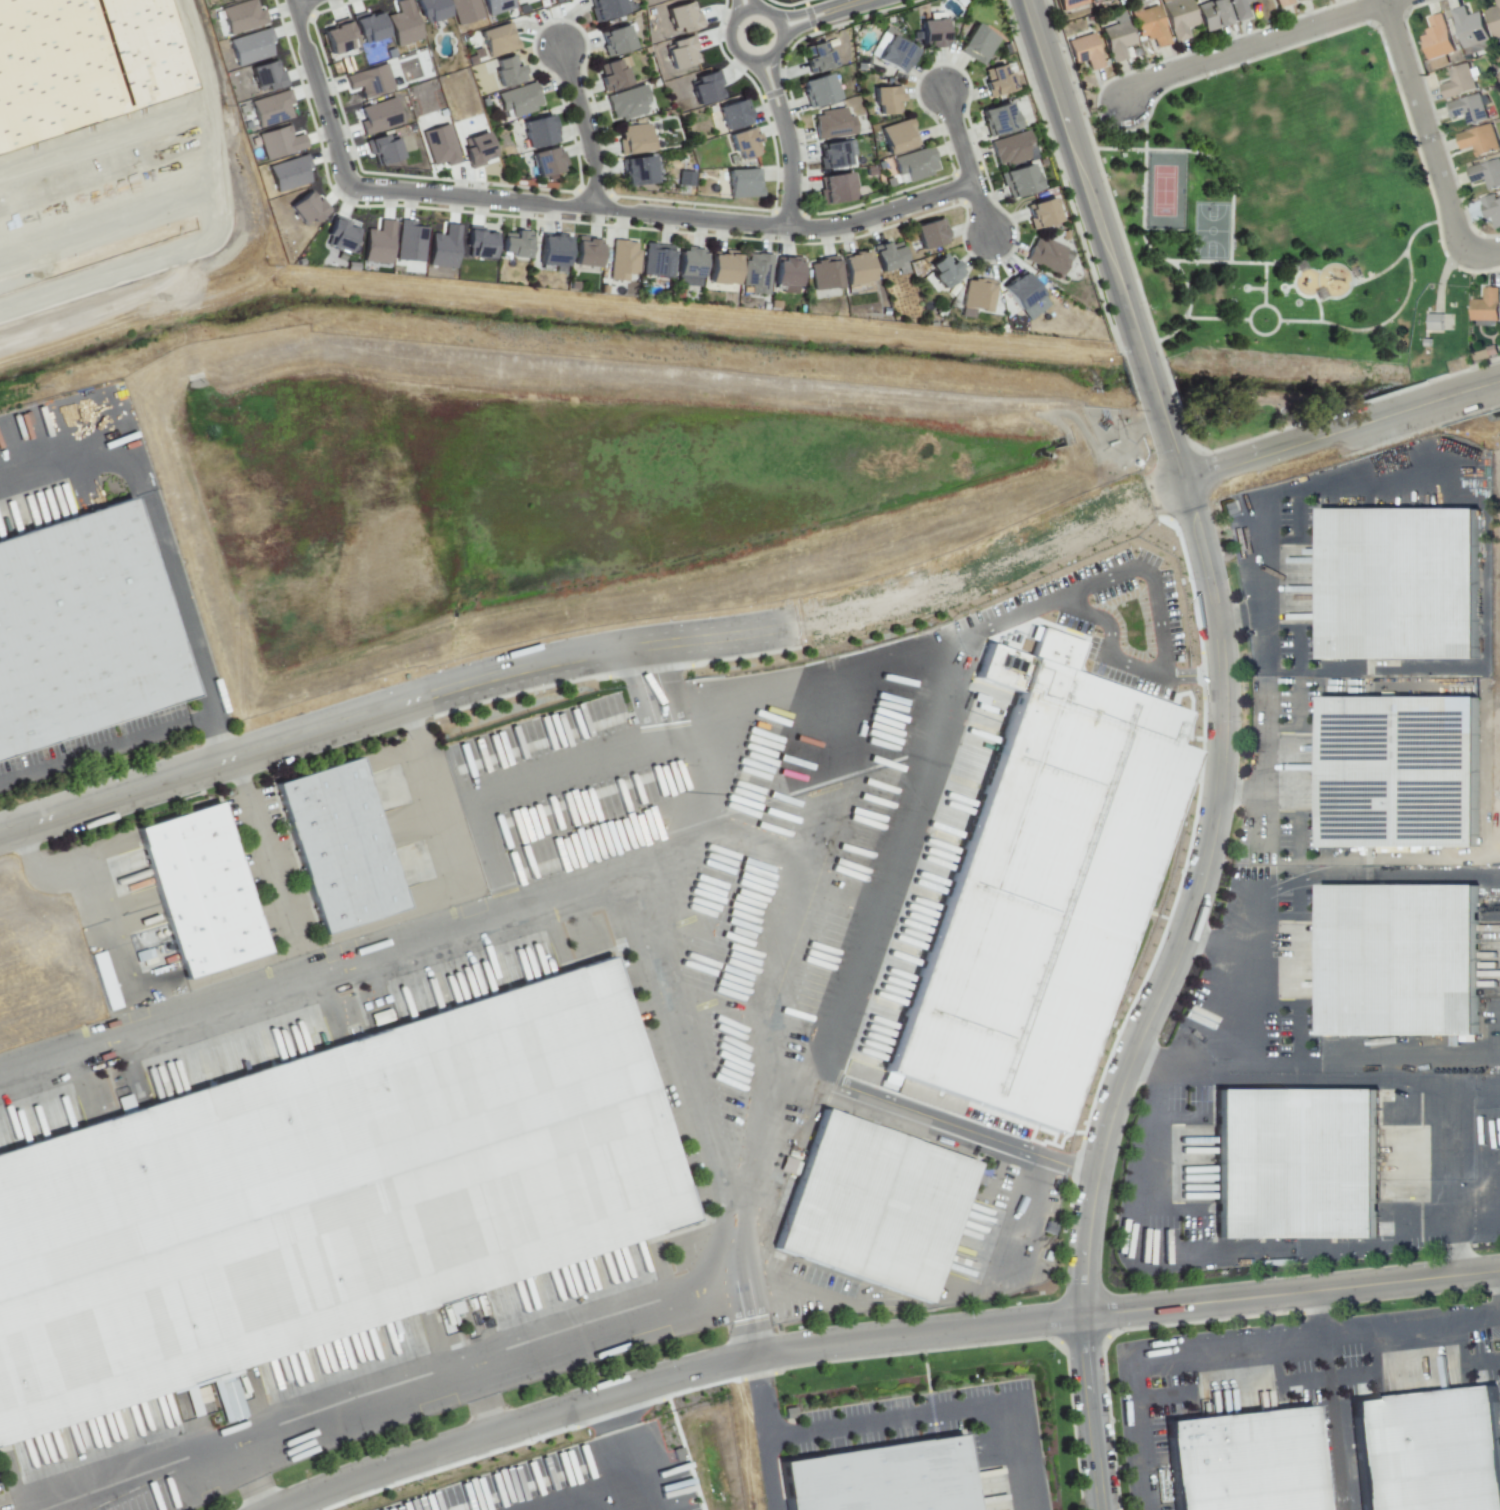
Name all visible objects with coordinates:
building: (227, 0)
building: (1091, 0)
building: (1296, 0)
building: (1300, 0)
building: (1095, 1)
road: (300, 2)
building: (1283, 3)
building: (1072, 4)
building: (496, 6)
road: (740, 6)
building: (1240, 9)
building: (430, 10)
building: (465, 10)
building: (605, 10)
road: (812, 10)
building: (1214, 15)
building: (242, 16)
building: (680, 17)
building: (1180, 18)
building: (1495, 19)
building: (403, 23)
building: (368, 26)
building: (1150, 27)
building: (1470, 28)
building: (338, 36)
building: (932, 36)
building: (1438, 39)
building: (1118, 41)
building: (499, 42)
building: (617, 42)
building: (979, 45)
road: (1255, 45)
building: (250, 46)
road: (732, 47)
building: (679, 52)
building: (1086, 52)
building: (895, 57)
building: (818, 59)
building: (78, 64)
building: (508, 74)
building: (265, 76)
building: (612, 76)
building: (369, 80)
building: (999, 83)
building: (1460, 83)
building: (704, 87)
road: (317, 91)
building: (820, 91)
building: (520, 102)
building: (886, 102)
building: (628, 104)
building: (271, 108)
building: (1469, 110)
building: (378, 116)
building: (733, 117)
building: (998, 121)
road: (585, 126)
building: (835, 126)
road: (1424, 126)
building: (538, 134)
building: (898, 138)
road: (786, 140)
building: (635, 141)
building: (1479, 141)
building: (279, 142)
building: (439, 145)
building: (743, 145)
building: (382, 148)
building: (476, 149)
building: (1012, 150)
road: (1198, 153)
building: (833, 157)
road: (964, 163)
building: (546, 164)
building: (915, 165)
building: (289, 173)
building: (638, 174)
building: (1487, 175)
road: (1083, 177)
building: (684, 178)
building: (1020, 182)
building: (743, 185)
park: (1164, 190)
building: (836, 191)
building: (306, 208)
building: (1491, 209)
road: (659, 213)
building: (1044, 214)
road: (1421, 225)
park: (1210, 230)
building: (339, 234)
building: (930, 237)
park: (1284, 239)
building: (409, 241)
building: (479, 242)
building: (378, 243)
building: (518, 244)
road: (1146, 245)
building: (443, 247)
building: (554, 251)
road: (1482, 252)
building: (587, 253)
building: (887, 258)
building: (1047, 258)
building: (659, 259)
building: (623, 260)
road: (1216, 261)
building: (691, 263)
road: (1279, 266)
building: (724, 268)
building: (788, 270)
building: (854, 271)
building: (945, 272)
building: (758, 273)
building: (823, 277)
road: (1359, 280)
road: (1287, 286)
road: (1254, 288)
building: (1021, 294)
building: (976, 299)
building: (1487, 308)
road: (1216, 318)
road: (1248, 319)
road: (1298, 320)
road: (1377, 324)
road: (1146, 379)
road: (1446, 397)
road: (1361, 424)
road: (90, 429)
road: (1167, 442)
road: (1255, 458)
road: (1484, 544)
building: (1393, 578)
road: (178, 628)
building: (79, 632)
road: (386, 710)
road: (195, 713)
road: (93, 747)
building: (1393, 765)
road: (1242, 790)
road: (434, 798)
road: (677, 842)
building: (348, 843)
building: (992, 848)
road: (264, 854)
road: (1260, 879)
road: (90, 884)
building: (209, 887)
road: (1196, 905)
road: (1122, 924)
road: (1222, 947)
building: (1394, 953)
building: (929, 1024)
road: (1065, 1082)
road: (1418, 1084)
building: (1291, 1158)
road: (1150, 1196)
building: (325, 1198)
building: (865, 1200)
road: (1361, 1247)
road: (913, 1306)
building: (452, 1307)
road: (1322, 1334)
road: (881, 1341)
road: (1172, 1352)
road: (463, 1373)
road: (758, 1399)
road: (940, 1413)
road: (1093, 1414)
building: (1422, 1448)
road: (629, 1456)
building: (1236, 1458)
road: (137, 1465)
road: (766, 1474)
building: (886, 1479)
road: (632, 1504)

